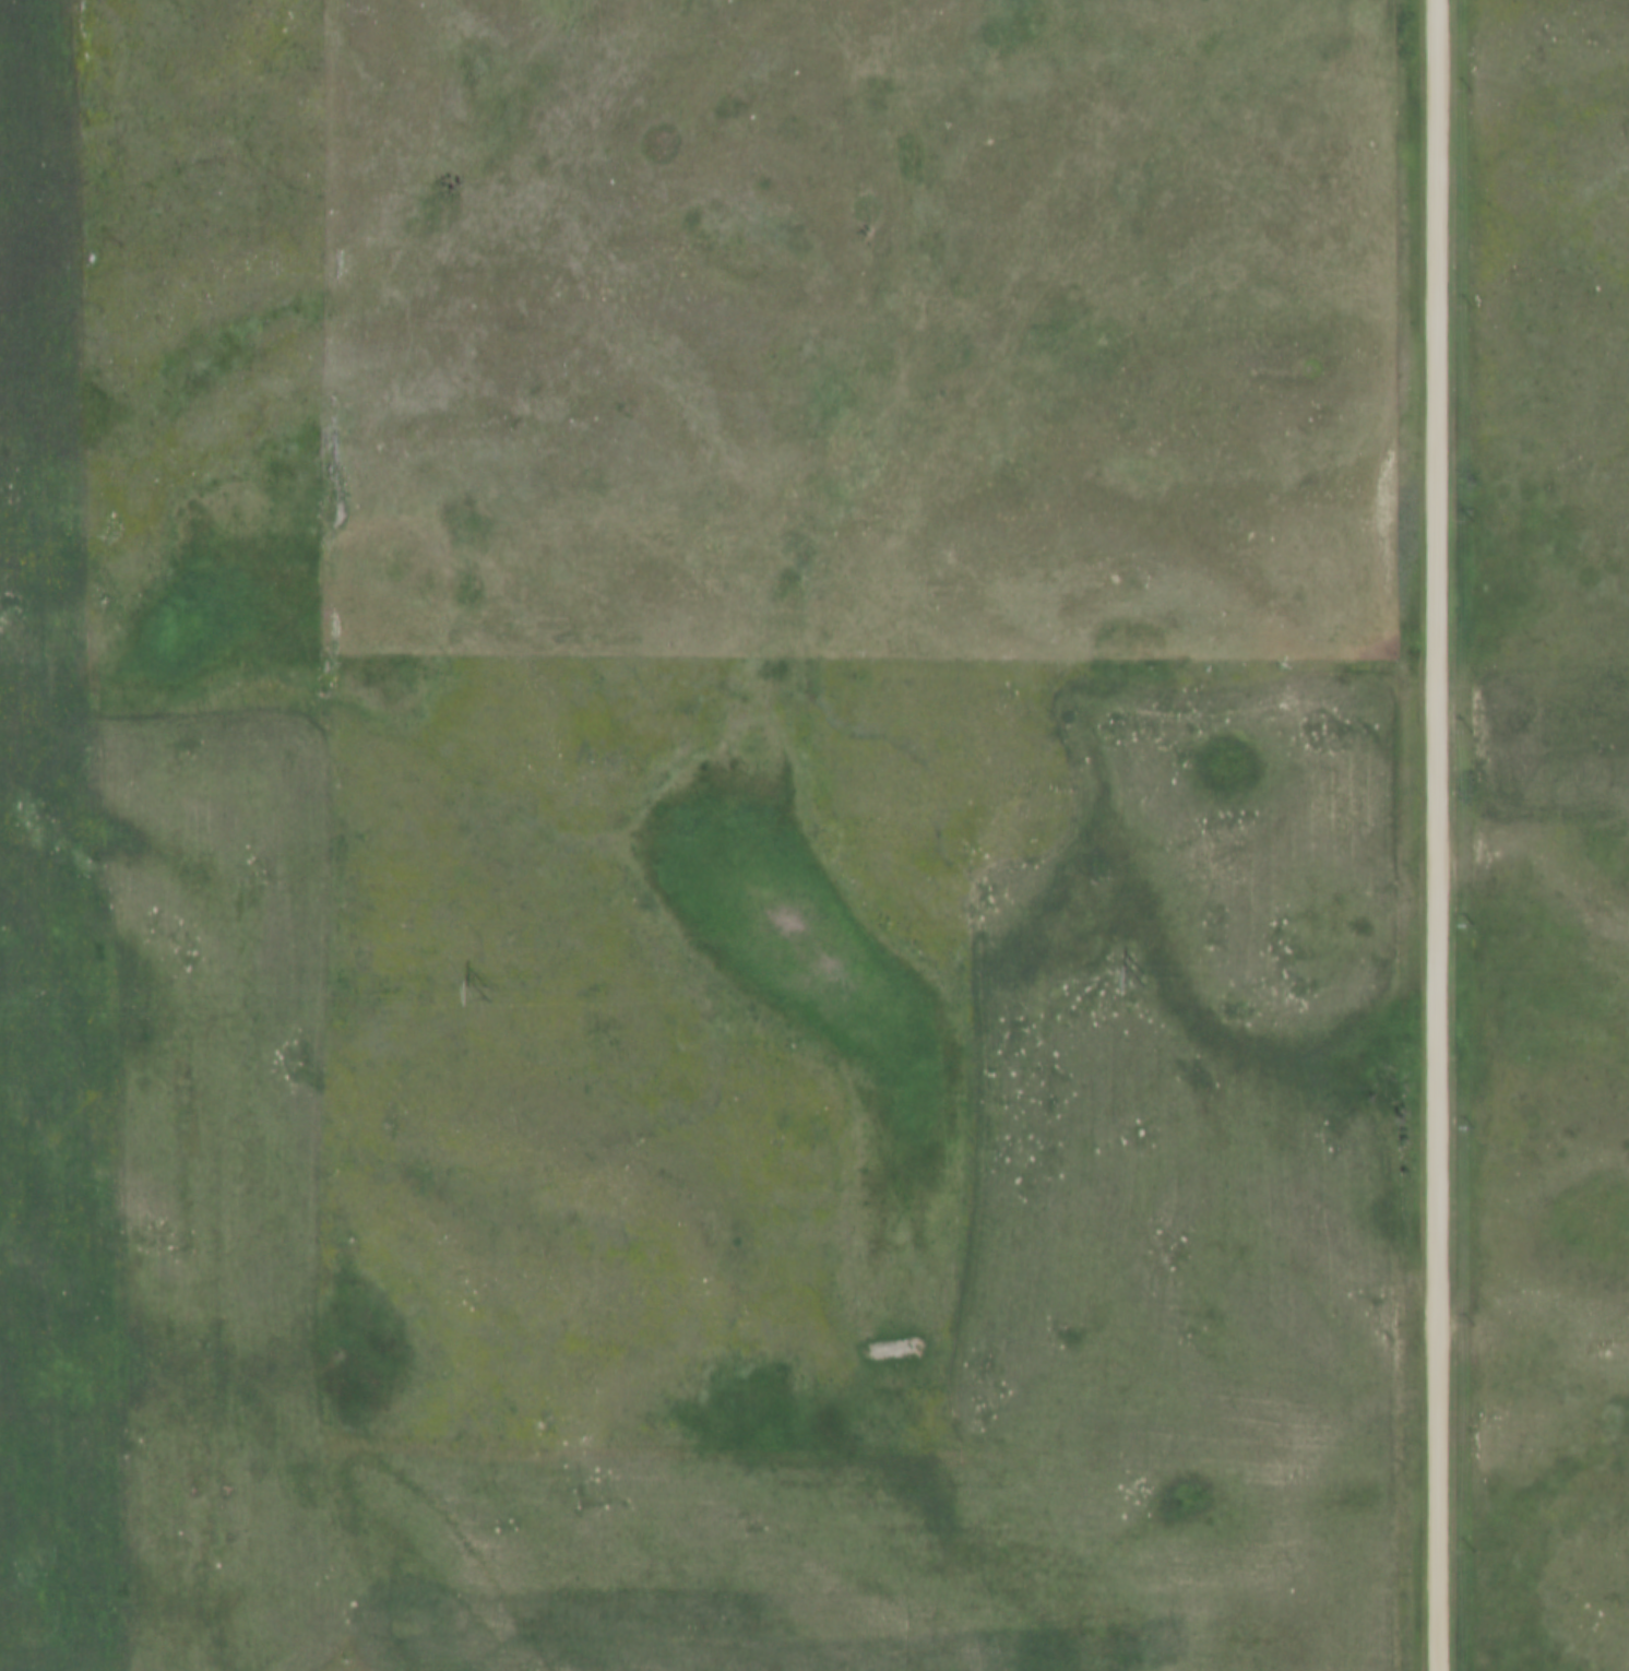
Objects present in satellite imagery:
road: (1439, 835)

